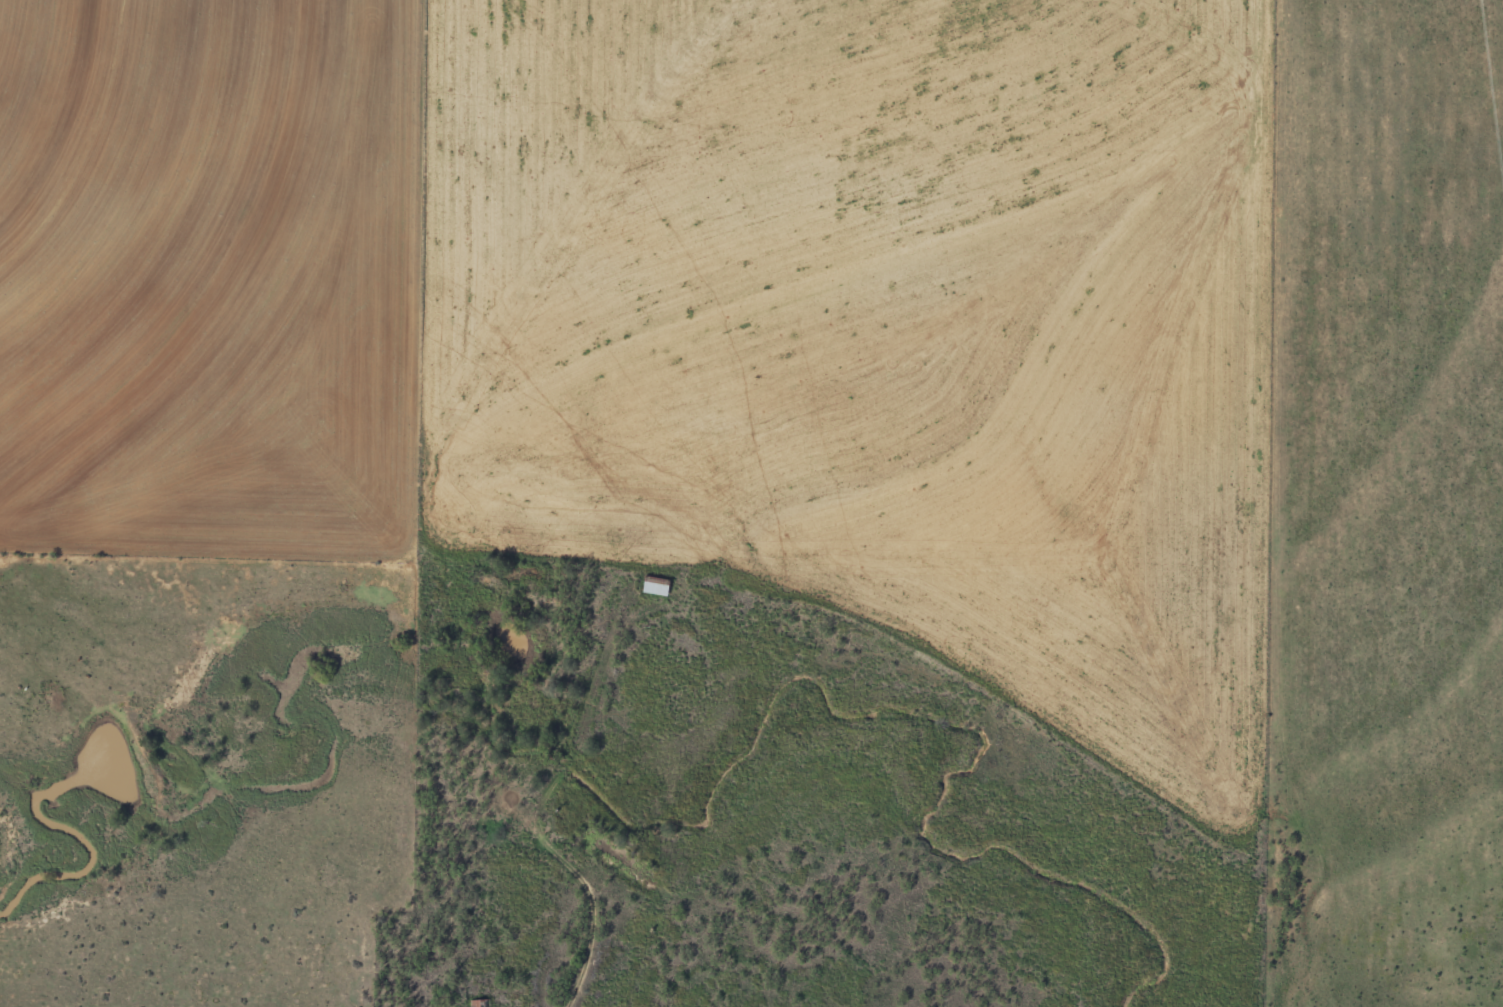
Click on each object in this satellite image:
building: (655, 589)
road: (557, 796)

